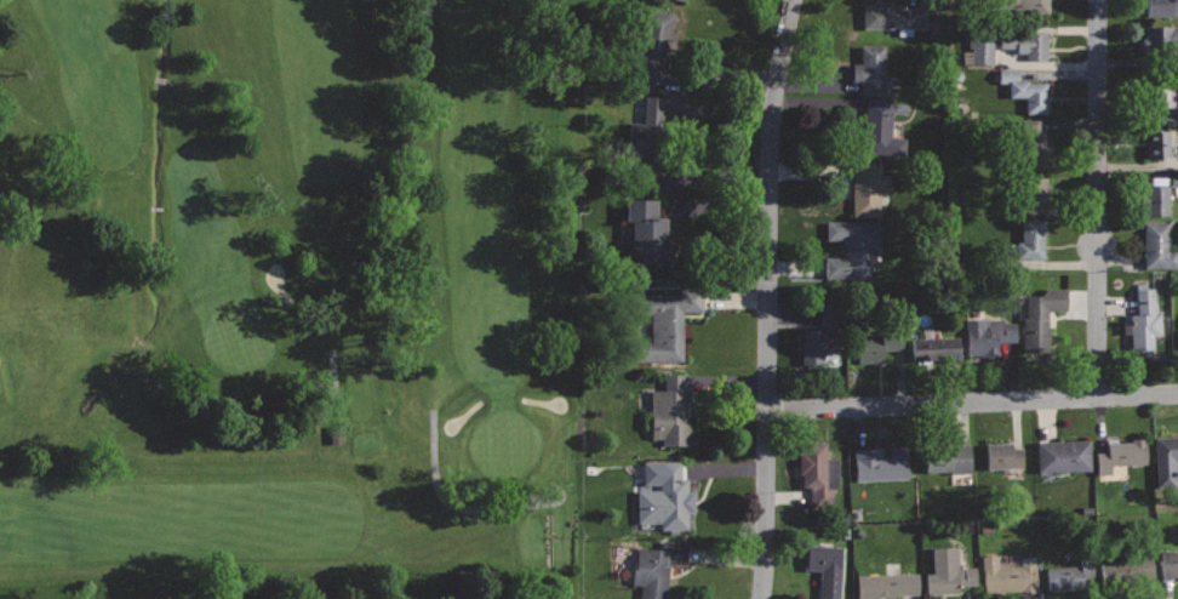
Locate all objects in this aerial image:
building: (681, 0)
building: (1020, 6)
building: (1161, 7)
building: (892, 15)
building: (1161, 39)
building: (1027, 44)
building: (654, 49)
building: (980, 51)
building: (873, 68)
building: (1025, 89)
building: (1160, 93)
building: (651, 119)
building: (881, 126)
building: (1031, 138)
building: (1159, 143)
building: (1034, 182)
building: (868, 187)
road: (385, 190)
road: (1099, 198)
building: (1155, 200)
building: (645, 233)
building: (1031, 238)
building: (1159, 245)
building: (853, 246)
park: (292, 296)
road: (768, 298)
building: (1041, 315)
building: (1144, 319)
building: (667, 323)
building: (823, 333)
building: (987, 333)
building: (880, 343)
building: (937, 347)
road: (331, 389)
road: (973, 400)
building: (671, 409)
building: (1122, 453)
building: (1003, 455)
building: (1064, 455)
building: (948, 456)
building: (1166, 457)
building: (881, 462)
building: (817, 468)
building: (665, 500)
road: (454, 504)
building: (1170, 563)
building: (657, 566)
building: (827, 567)
building: (1126, 567)
building: (948, 571)
building: (1070, 572)
building: (1008, 576)
building: (887, 584)

